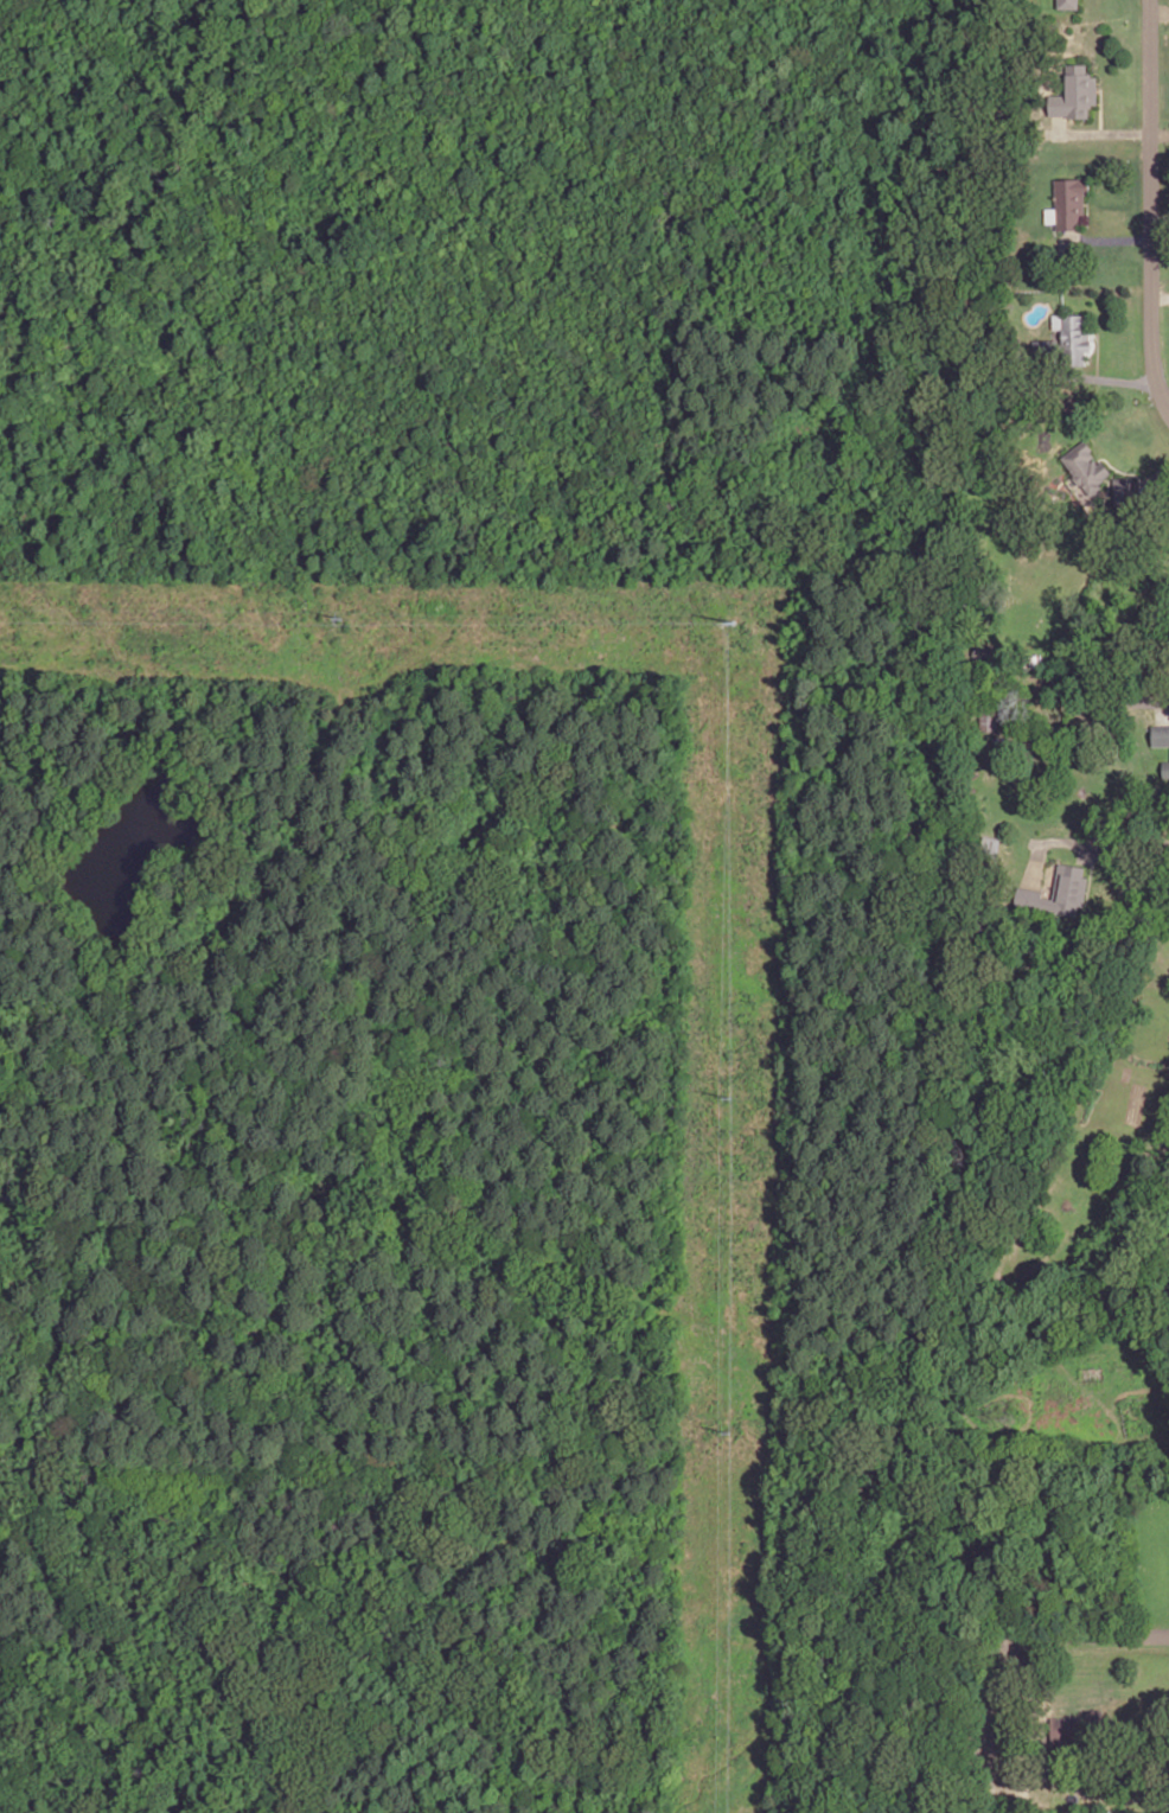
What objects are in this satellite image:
building: (1068, 2)
road: (1158, 11)
building: (1078, 91)
road: (1101, 108)
road: (1098, 130)
road: (1160, 134)
building: (1071, 199)
road: (1151, 205)
road: (1110, 238)
road: (1161, 296)
building: (1071, 337)
road: (1117, 378)
building: (1087, 464)
road: (1158, 473)
building: (1125, 489)
road: (1162, 703)
building: (1161, 734)
building: (1167, 767)
road: (1086, 840)
road: (1091, 849)
building: (1058, 890)
road: (1082, 1635)
road: (1028, 1693)

